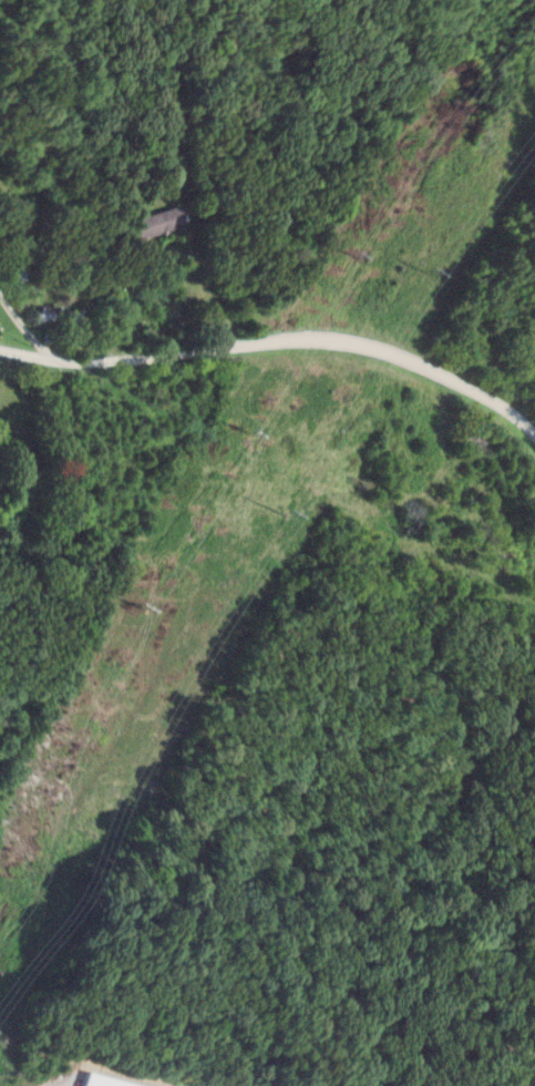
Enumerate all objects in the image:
building: (158, 221)
power tower: (351, 252)
power tower: (420, 274)
road: (208, 285)
road: (23, 324)
road: (277, 342)
power tower: (240, 433)
power tower: (275, 512)
power tower: (135, 605)
building: (95, 1082)

